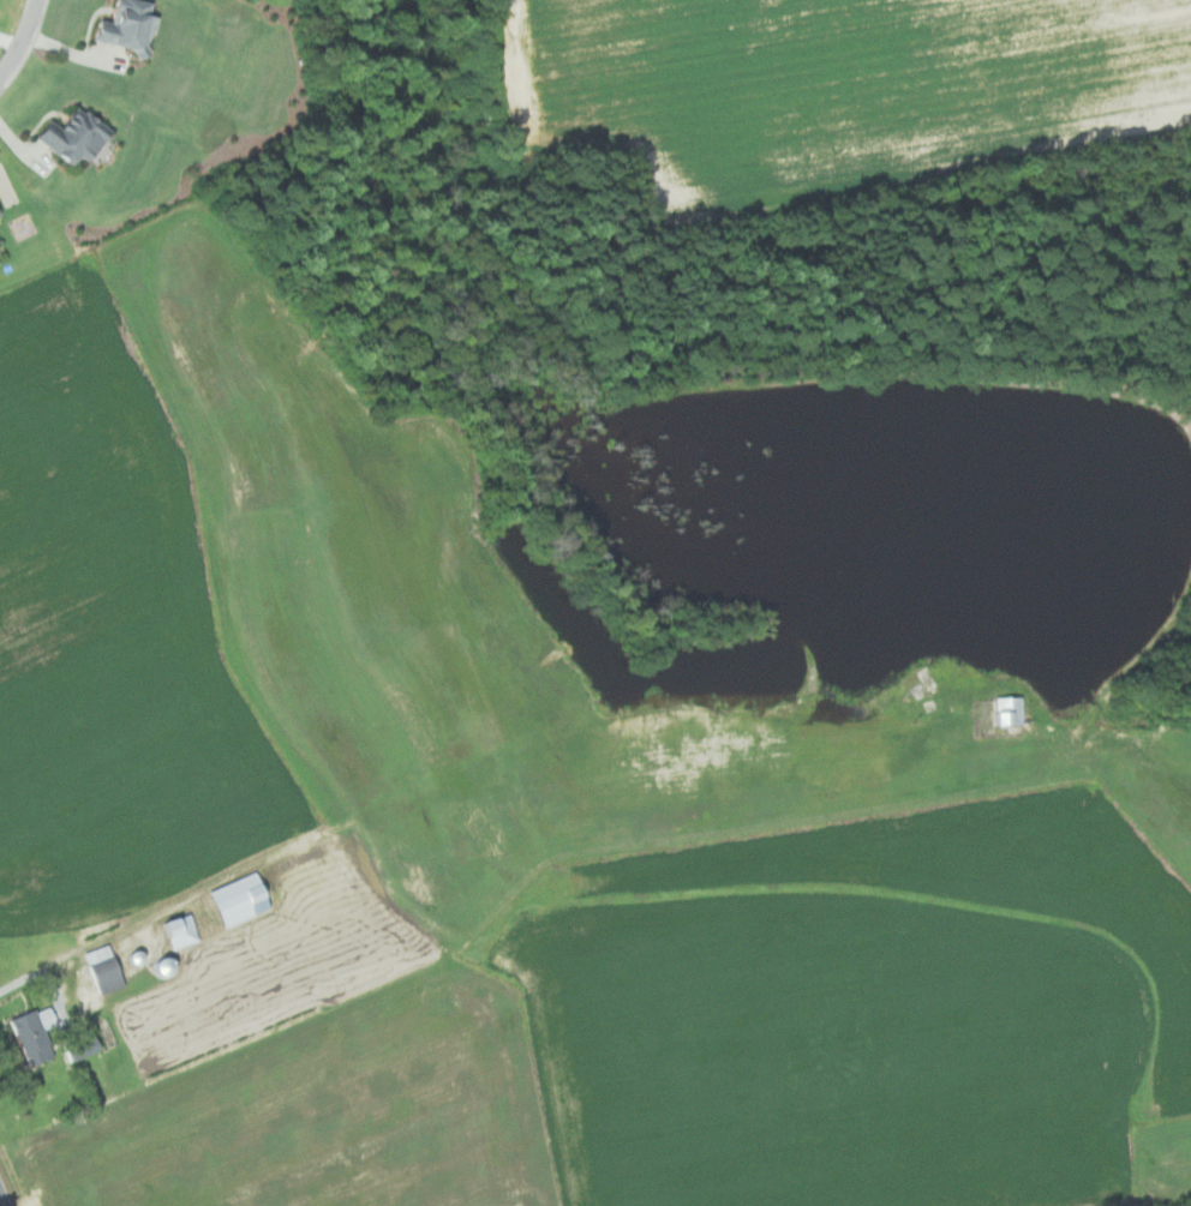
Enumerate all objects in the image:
building: (125, 25)
road: (22, 40)
building: (70, 136)
building: (1004, 710)
building: (244, 898)
road: (154, 908)
building: (184, 930)
building: (107, 968)
building: (38, 1034)
building: (84, 1043)
road: (4, 1195)

